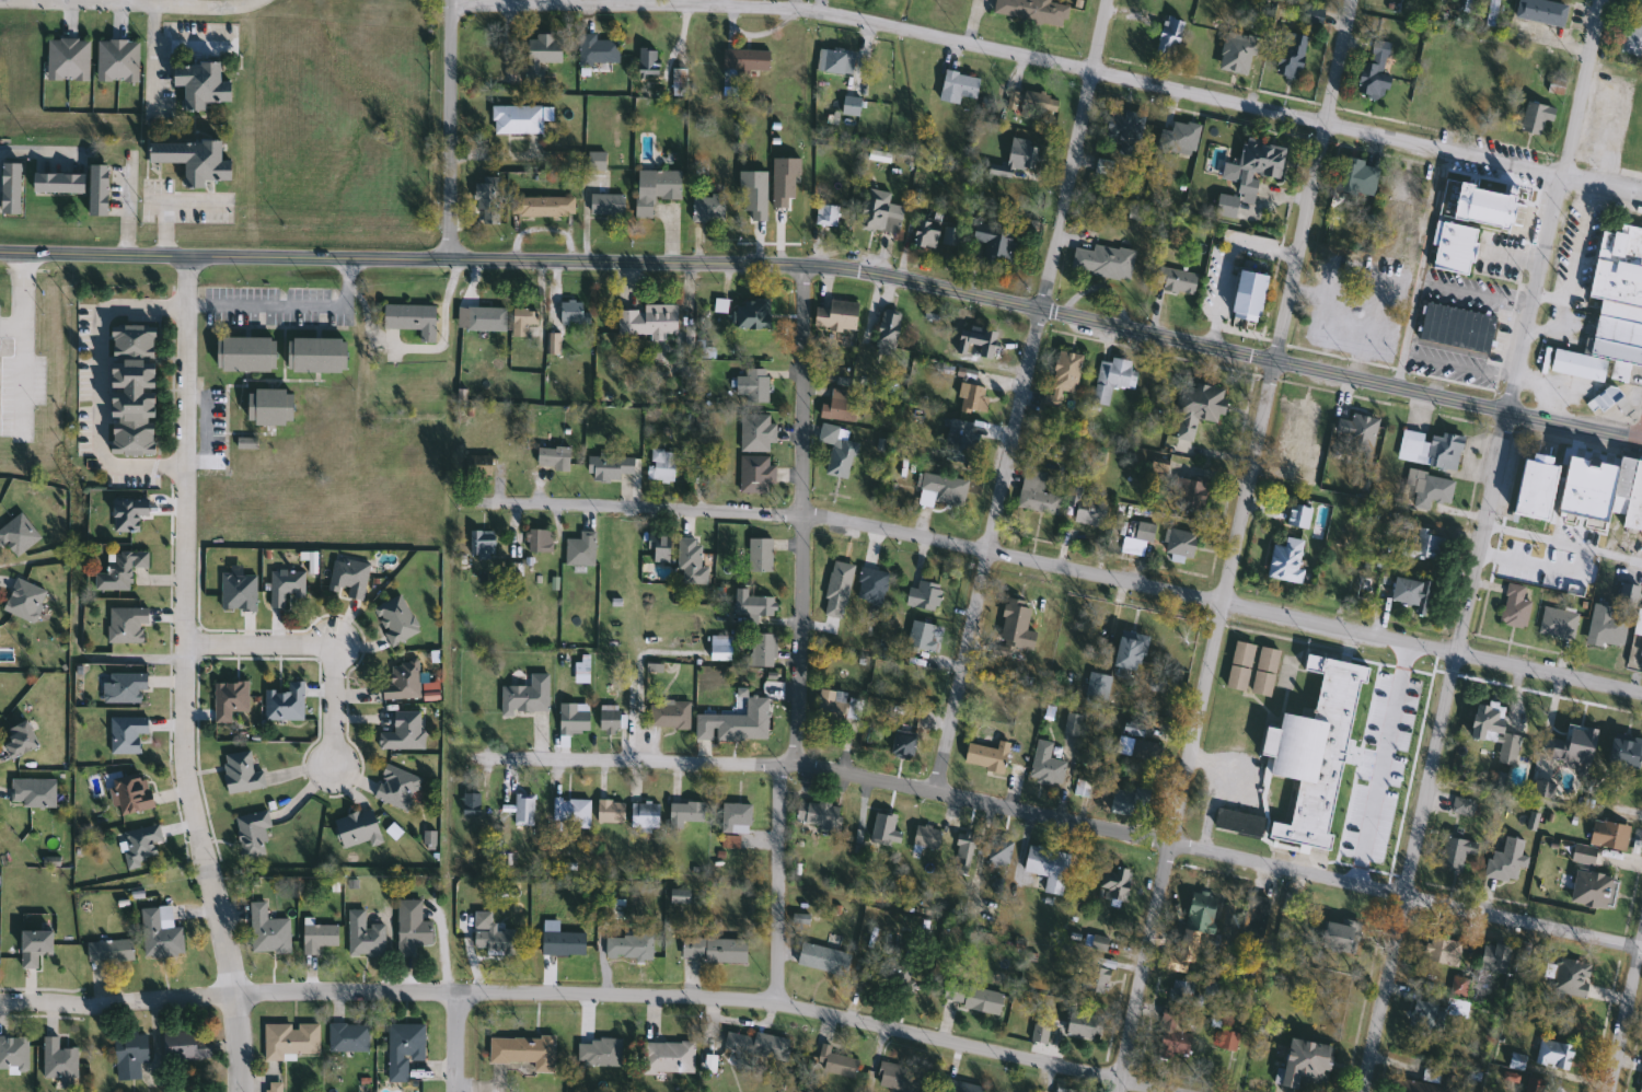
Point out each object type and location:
road: (129, 4)
building: (1030, 10)
building: (1540, 11)
building: (1491, 13)
building: (1308, 14)
building: (1167, 37)
building: (1630, 39)
building: (541, 51)
building: (595, 51)
road: (1009, 53)
building: (1235, 53)
building: (1288, 55)
road: (152, 58)
building: (66, 59)
building: (743, 59)
building: (116, 60)
building: (647, 61)
building: (834, 61)
building: (1373, 71)
building: (677, 81)
building: (197, 84)
building: (1554, 85)
building: (957, 86)
building: (1433, 91)
building: (1472, 95)
building: (1030, 104)
building: (848, 105)
building: (1501, 108)
building: (1534, 117)
building: (514, 119)
building: (1123, 124)
road: (450, 129)
building: (1181, 138)
road: (37, 150)
road: (1073, 154)
building: (1011, 158)
building: (189, 159)
building: (1103, 166)
building: (1250, 174)
building: (1356, 177)
road: (1313, 181)
building: (55, 183)
road: (1599, 185)
building: (9, 188)
building: (654, 189)
building: (95, 190)
building: (1402, 190)
building: (486, 201)
road: (171, 202)
road: (127, 205)
building: (604, 205)
road: (1552, 205)
building: (1481, 206)
building: (544, 207)
building: (706, 209)
building: (880, 212)
building: (767, 213)
building: (824, 216)
building: (924, 232)
building: (995, 243)
building: (1452, 247)
building: (1100, 262)
road: (830, 267)
road: (1421, 269)
road: (1565, 269)
building: (1176, 280)
road: (1547, 294)
building: (1245, 295)
road: (24, 303)
road: (288, 305)
building: (571, 313)
building: (750, 314)
building: (1614, 314)
building: (835, 316)
building: (1328, 317)
building: (408, 318)
building: (485, 318)
building: (521, 321)
building: (646, 321)
road: (446, 325)
building: (1368, 326)
building: (886, 329)
building: (975, 342)
building: (243, 355)
building: (313, 355)
building: (1062, 375)
building: (1112, 380)
road: (24, 382)
road: (96, 385)
building: (751, 385)
building: (129, 390)
building: (972, 398)
building: (266, 407)
building: (839, 407)
building: (1194, 408)
building: (1299, 420)
building: (755, 432)
building: (1357, 432)
building: (958, 442)
building: (1429, 449)
building: (836, 451)
building: (551, 457)
building: (660, 465)
building: (478, 467)
building: (609, 467)
building: (1157, 467)
building: (754, 474)
building: (1304, 474)
building: (1533, 487)
building: (1429, 489)
building: (938, 490)
building: (1036, 495)
building: (1189, 495)
building: (1628, 495)
building: (1085, 508)
road: (796, 513)
building: (1296, 515)
building: (1576, 525)
building: (16, 535)
building: (1136, 536)
building: (537, 539)
road: (1563, 541)
building: (481, 543)
building: (1177, 543)
building: (1421, 545)
building: (658, 547)
building: (579, 549)
road: (987, 550)
building: (759, 555)
building: (1284, 560)
building: (689, 561)
road: (1057, 566)
building: (118, 569)
building: (347, 579)
building: (284, 586)
building: (236, 592)
building: (1407, 592)
building: (837, 595)
building: (923, 596)
building: (23, 601)
building: (751, 603)
building: (1513, 606)
building: (394, 619)
building: (1557, 623)
building: (1638, 624)
building: (125, 625)
building: (1013, 627)
building: (1605, 627)
building: (920, 638)
road: (319, 646)
building: (762, 650)
building: (1640, 650)
building: (1128, 651)
building: (717, 652)
building: (1251, 669)
road: (184, 676)
building: (401, 682)
building: (122, 687)
building: (1096, 687)
building: (524, 696)
building: (228, 699)
building: (282, 702)
building: (832, 708)
building: (669, 715)
building: (608, 721)
building: (1484, 722)
building: (571, 723)
building: (1071, 724)
building: (740, 727)
road: (1195, 727)
building: (403, 732)
building: (124, 733)
building: (18, 740)
building: (901, 744)
building: (1508, 744)
building: (1136, 750)
road: (1435, 752)
building: (1622, 753)
building: (985, 757)
building: (1305, 760)
building: (1044, 765)
road: (1387, 765)
building: (240, 772)
building: (395, 788)
road: (1217, 791)
building: (31, 792)
building: (129, 793)
building: (1130, 802)
building: (469, 804)
building: (1461, 806)
building: (522, 810)
building: (571, 810)
building: (608, 811)
building: (684, 812)
building: (643, 814)
building: (817, 814)
building: (735, 817)
road: (1063, 820)
building: (355, 829)
building: (883, 829)
building: (250, 834)
building: (1607, 835)
building: (925, 836)
building: (139, 844)
building: (994, 850)
building: (962, 851)
building: (1454, 852)
building: (1582, 855)
building: (1505, 861)
building: (1045, 868)
road: (777, 883)
building: (1113, 884)
building: (1592, 890)
building: (678, 896)
building: (1199, 913)
building: (1261, 926)
building: (408, 927)
building: (266, 931)
building: (159, 933)
building: (362, 936)
building: (1337, 936)
building: (316, 938)
building: (493, 942)
building: (559, 942)
building: (1098, 943)
building: (32, 946)
building: (626, 948)
building: (107, 951)
building: (712, 951)
building: (1443, 953)
building: (1493, 957)
building: (822, 960)
building: (1570, 977)
building: (1180, 991)
road: (632, 995)
building: (971, 997)
road: (42, 1003)
road: (1624, 1014)
building: (1423, 1015)
building: (1079, 1025)
building: (1038, 1032)
building: (1171, 1036)
building: (346, 1038)
building: (288, 1041)
building: (1226, 1041)
road: (454, 1042)
building: (755, 1046)
building: (184, 1047)
building: (402, 1049)
building: (519, 1053)
building: (598, 1053)
building: (13, 1054)
building: (128, 1055)
building: (1552, 1055)
building: (668, 1057)
building: (58, 1062)
building: (1303, 1064)
building: (836, 1066)
building: (898, 1078)
building: (1640, 1082)
building: (1430, 1085)
building: (961, 1088)
building: (271, 1091)

